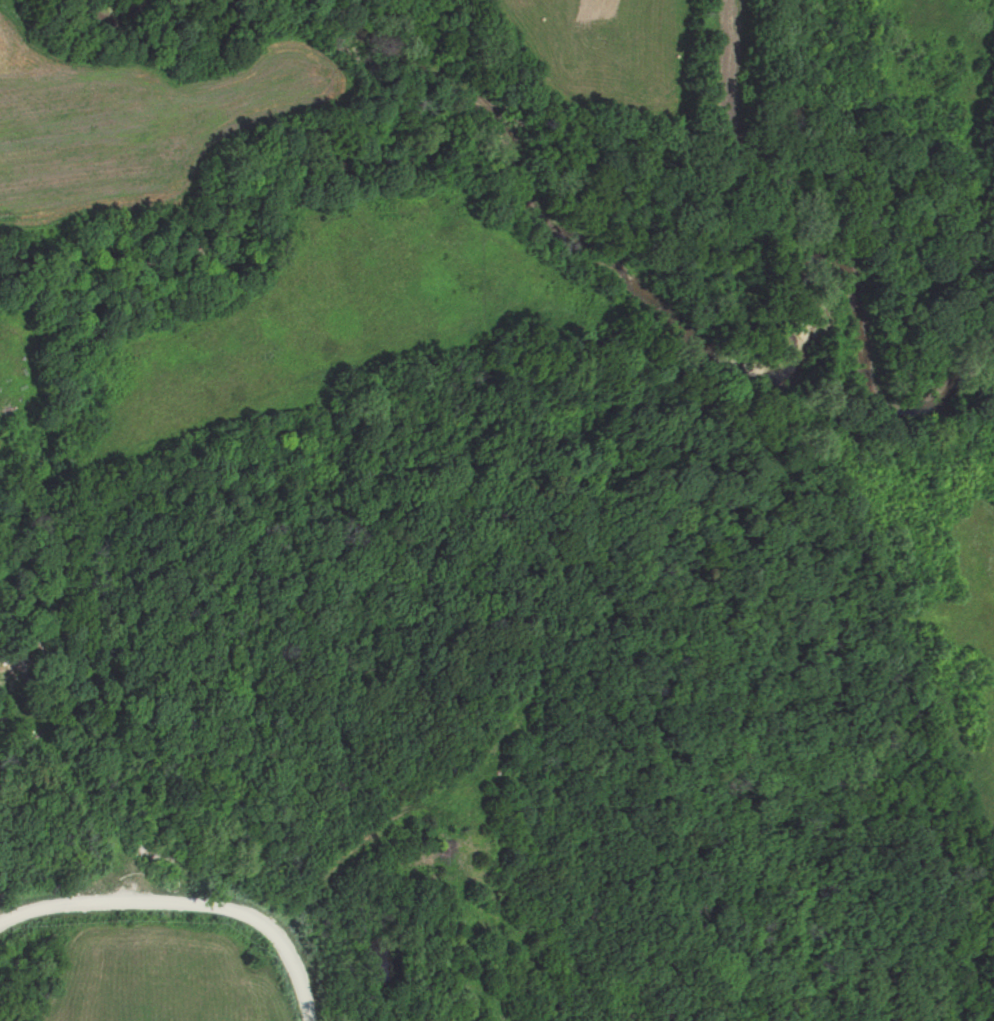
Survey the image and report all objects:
road: (186, 906)

